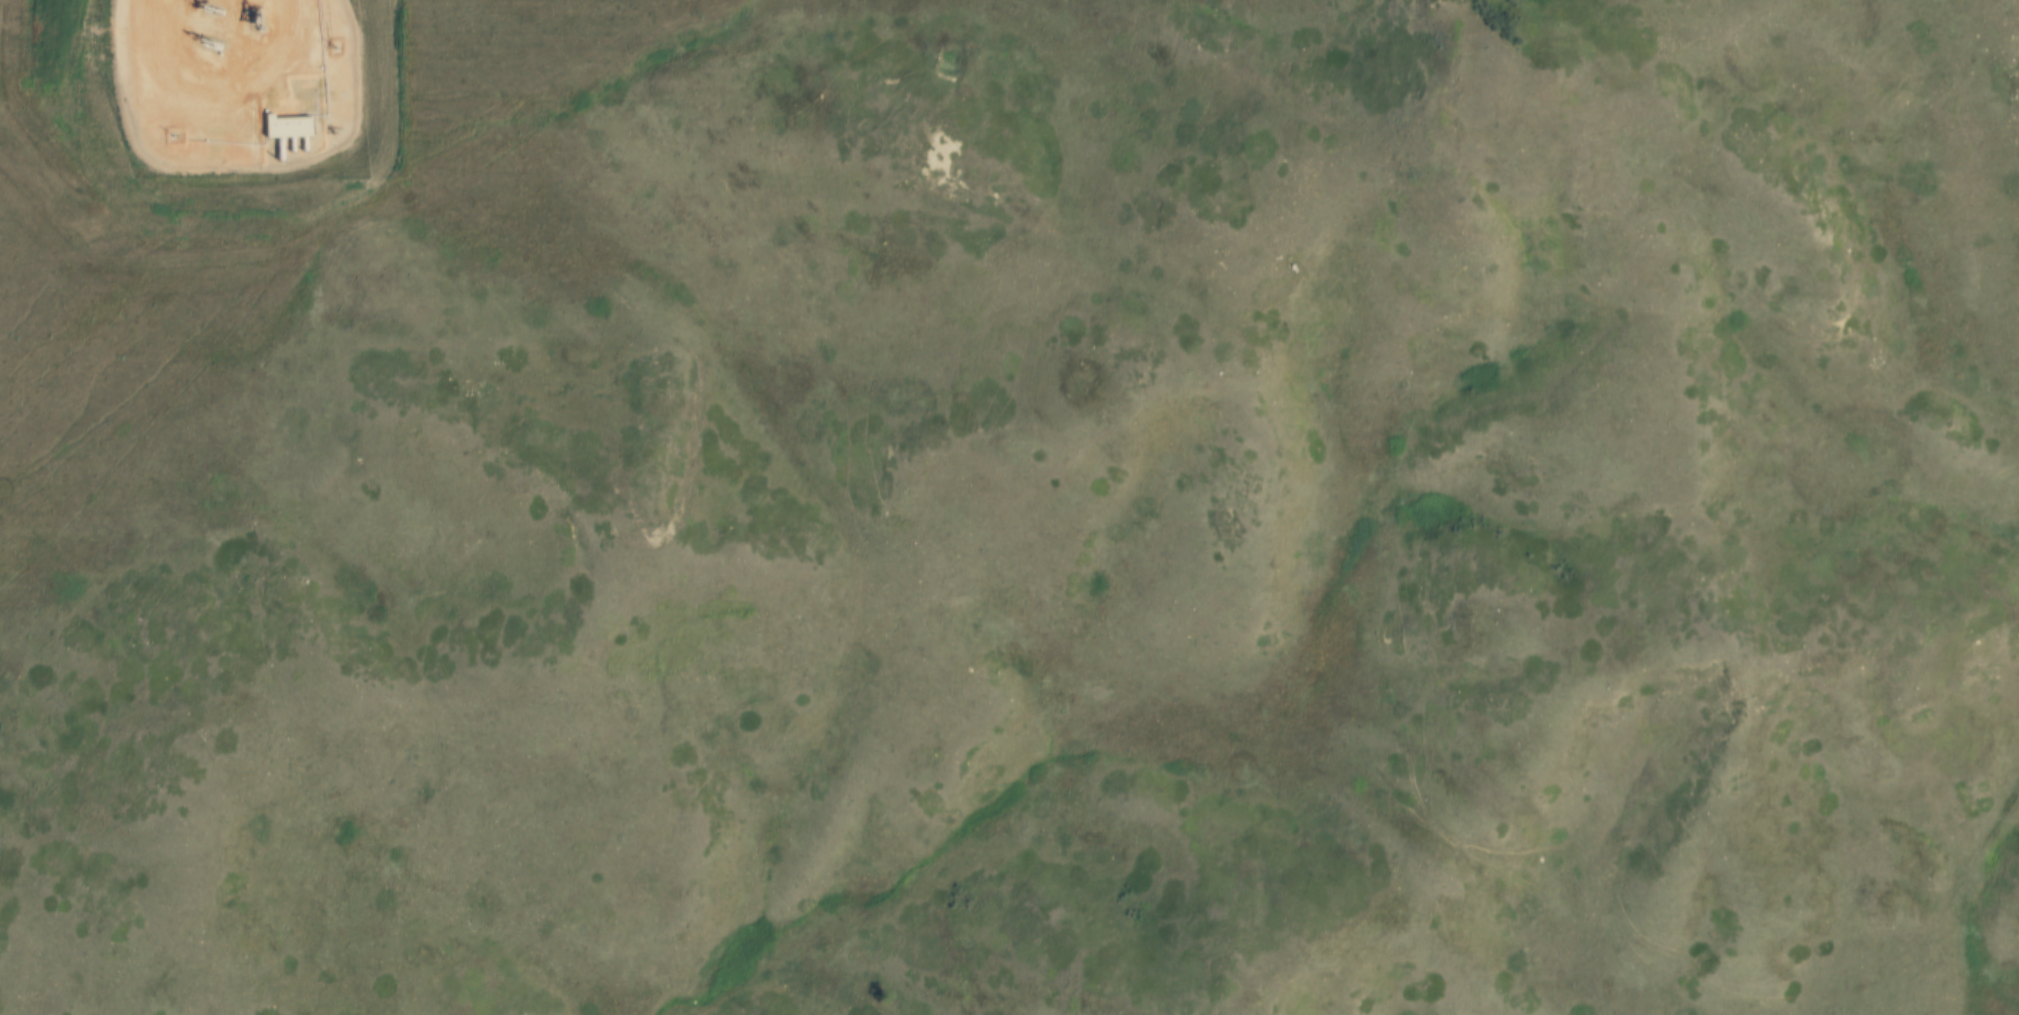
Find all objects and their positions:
building: (146, 11)
building: (147, 54)
building: (109, 59)
building: (148, 103)
building: (109, 104)

